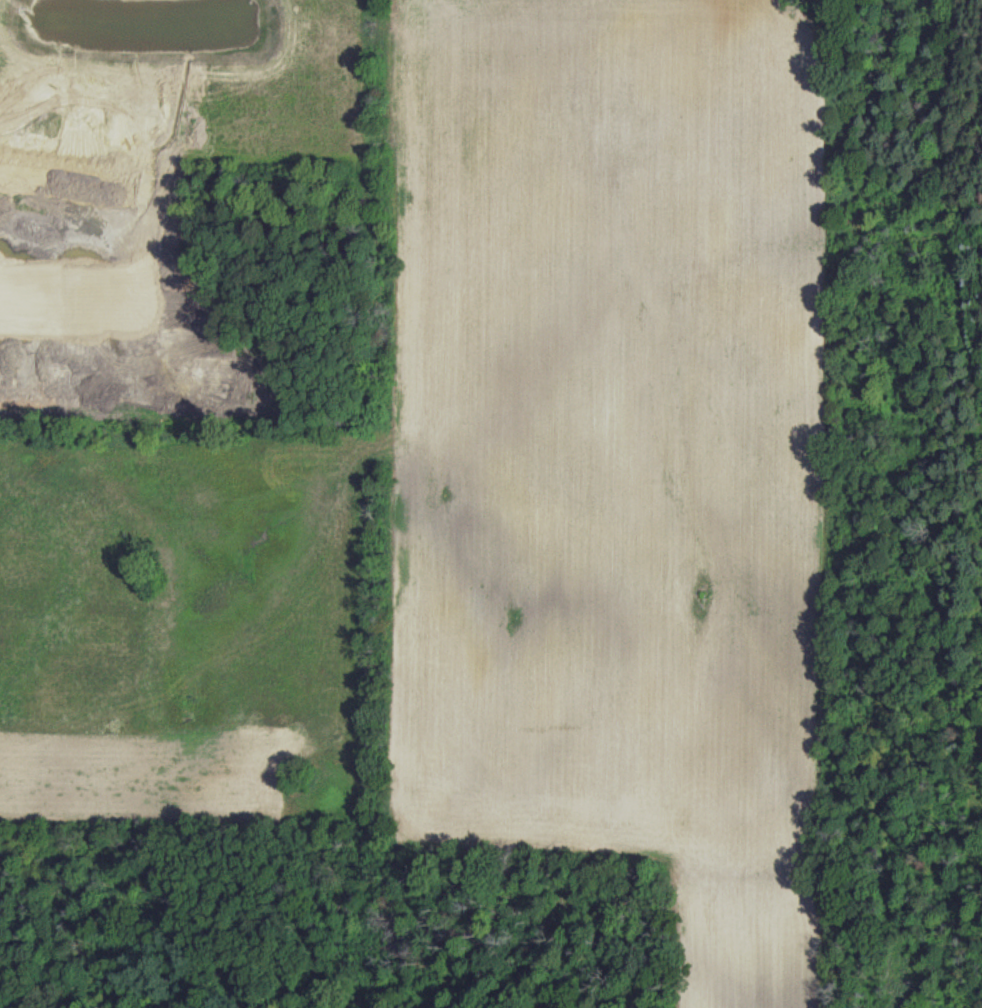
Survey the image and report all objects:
crop: (181, 83)
crop: (604, 416)
crop: (173, 627)
crop: (741, 944)

